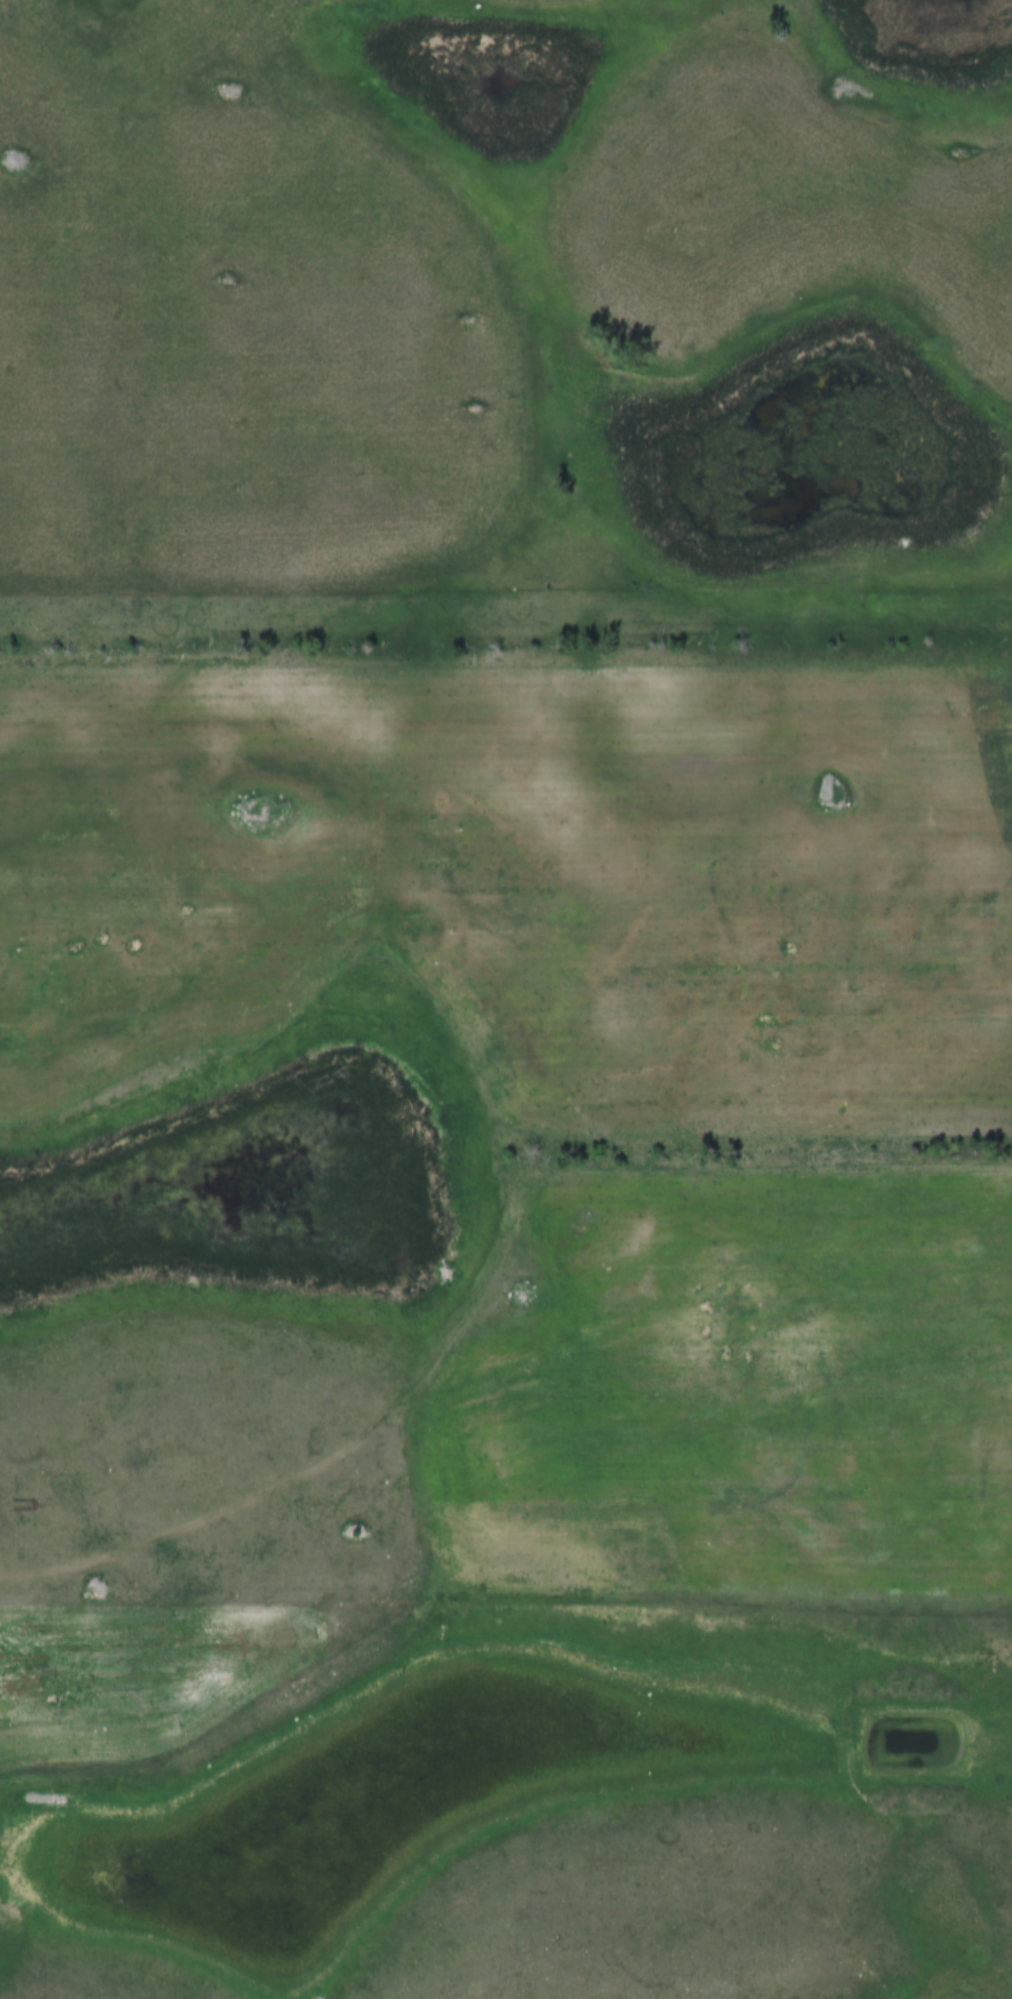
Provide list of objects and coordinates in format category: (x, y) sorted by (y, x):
road: (506, 639)

